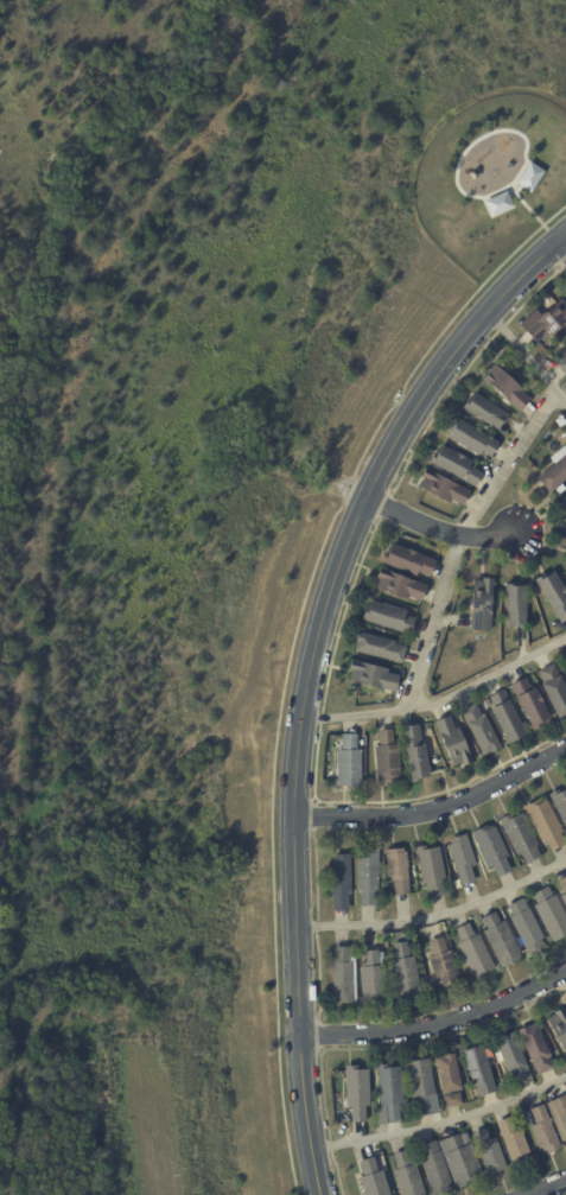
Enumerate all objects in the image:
building: (530, 176)
park: (254, 180)
building: (498, 205)
road: (561, 246)
building: (548, 322)
road: (530, 355)
building: (562, 364)
building: (505, 388)
building: (485, 412)
building: (483, 427)
building: (471, 438)
building: (454, 465)
building: (554, 470)
building: (441, 488)
building: (562, 508)
road: (439, 528)
road: (459, 540)
building: (407, 561)
building: (398, 585)
building: (553, 596)
building: (481, 605)
building: (515, 605)
building: (387, 618)
building: (379, 648)
building: (565, 659)
road: (311, 676)
building: (373, 676)
building: (554, 691)
road: (440, 697)
building: (529, 705)
building: (505, 718)
building: (479, 730)
building: (452, 743)
building: (414, 755)
building: (386, 759)
building: (348, 763)
building: (560, 803)
road: (440, 806)
building: (545, 824)
building: (520, 838)
building: (491, 851)
building: (462, 860)
building: (396, 871)
building: (431, 871)
building: (369, 878)
building: (341, 882)
building: (562, 889)
road: (440, 914)
building: (549, 915)
building: (524, 927)
building: (500, 941)
building: (473, 953)
building: (443, 966)
building: (405, 973)
building: (342, 978)
building: (371, 978)
road: (440, 1021)
building: (558, 1026)
building: (535, 1048)
building: (511, 1056)
building: (478, 1069)
building: (447, 1073)
building: (421, 1082)
building: (389, 1089)
building: (356, 1092)
building: (473, 1092)
building: (452, 1099)
building: (559, 1115)
road: (444, 1120)
building: (543, 1130)
building: (464, 1138)
building: (513, 1142)
building: (488, 1151)
building: (459, 1161)
building: (434, 1168)
building: (406, 1175)
building: (373, 1178)
road: (552, 1189)

